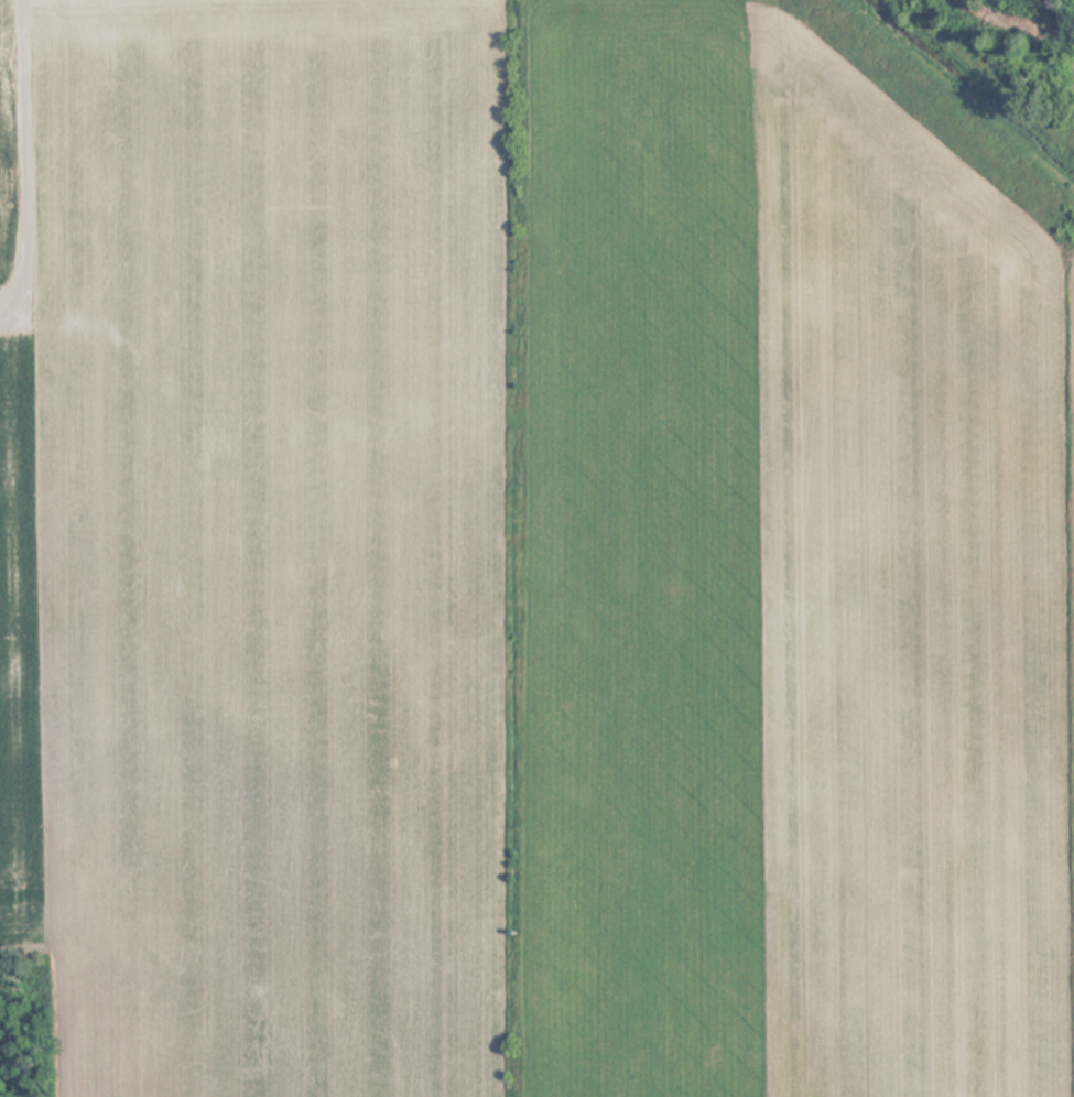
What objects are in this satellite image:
road: (31, 176)

